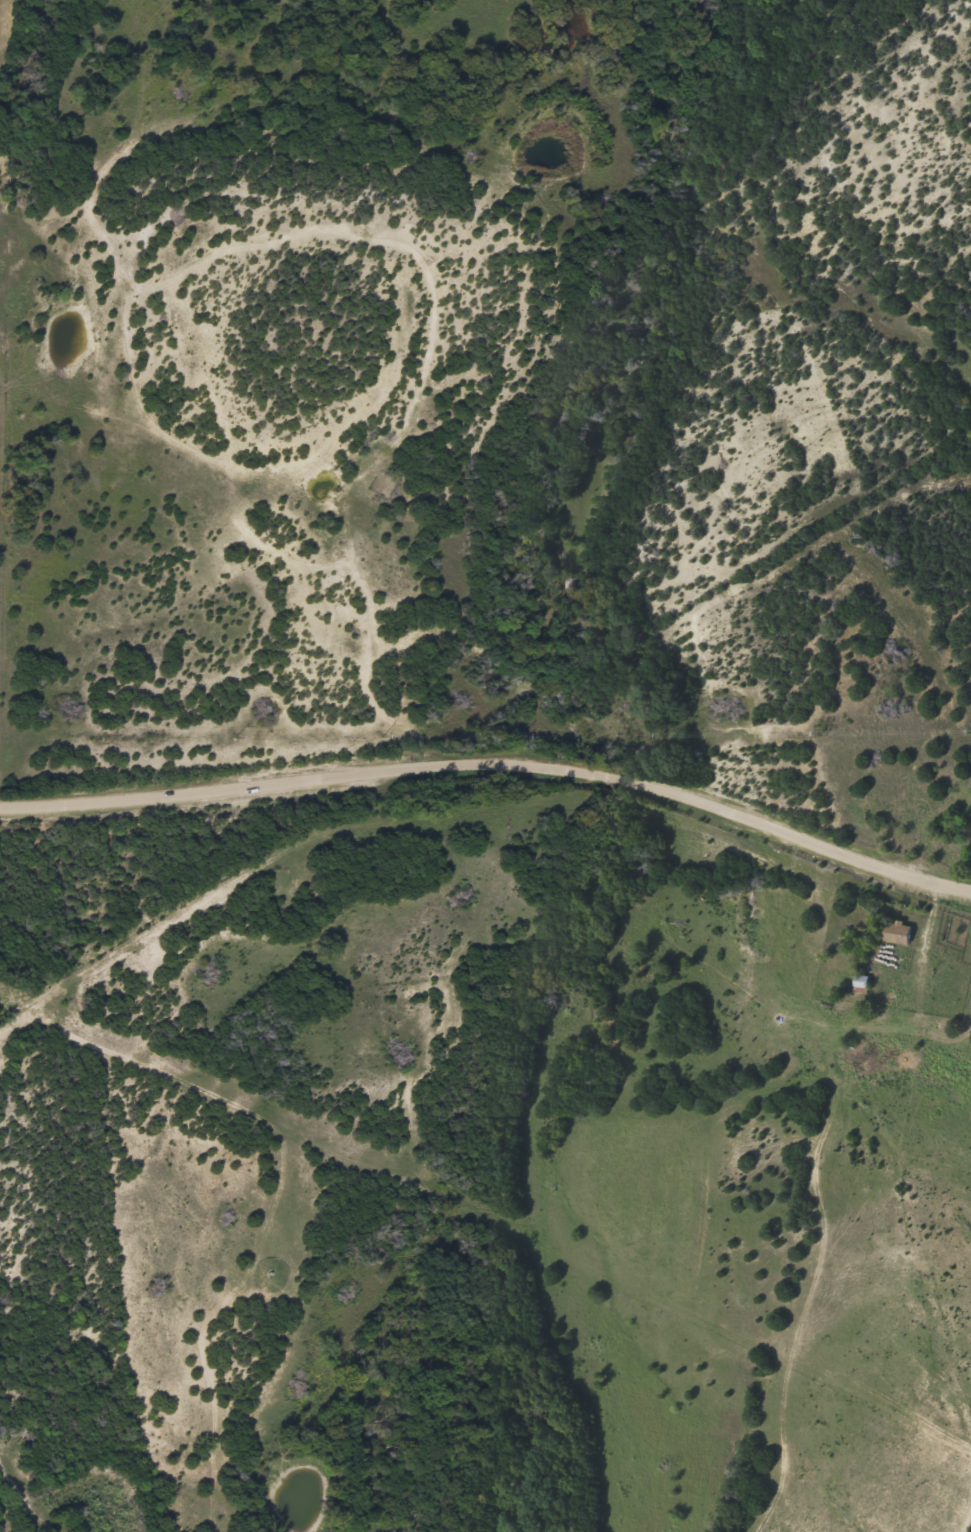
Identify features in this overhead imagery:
road: (493, 769)
building: (897, 932)

